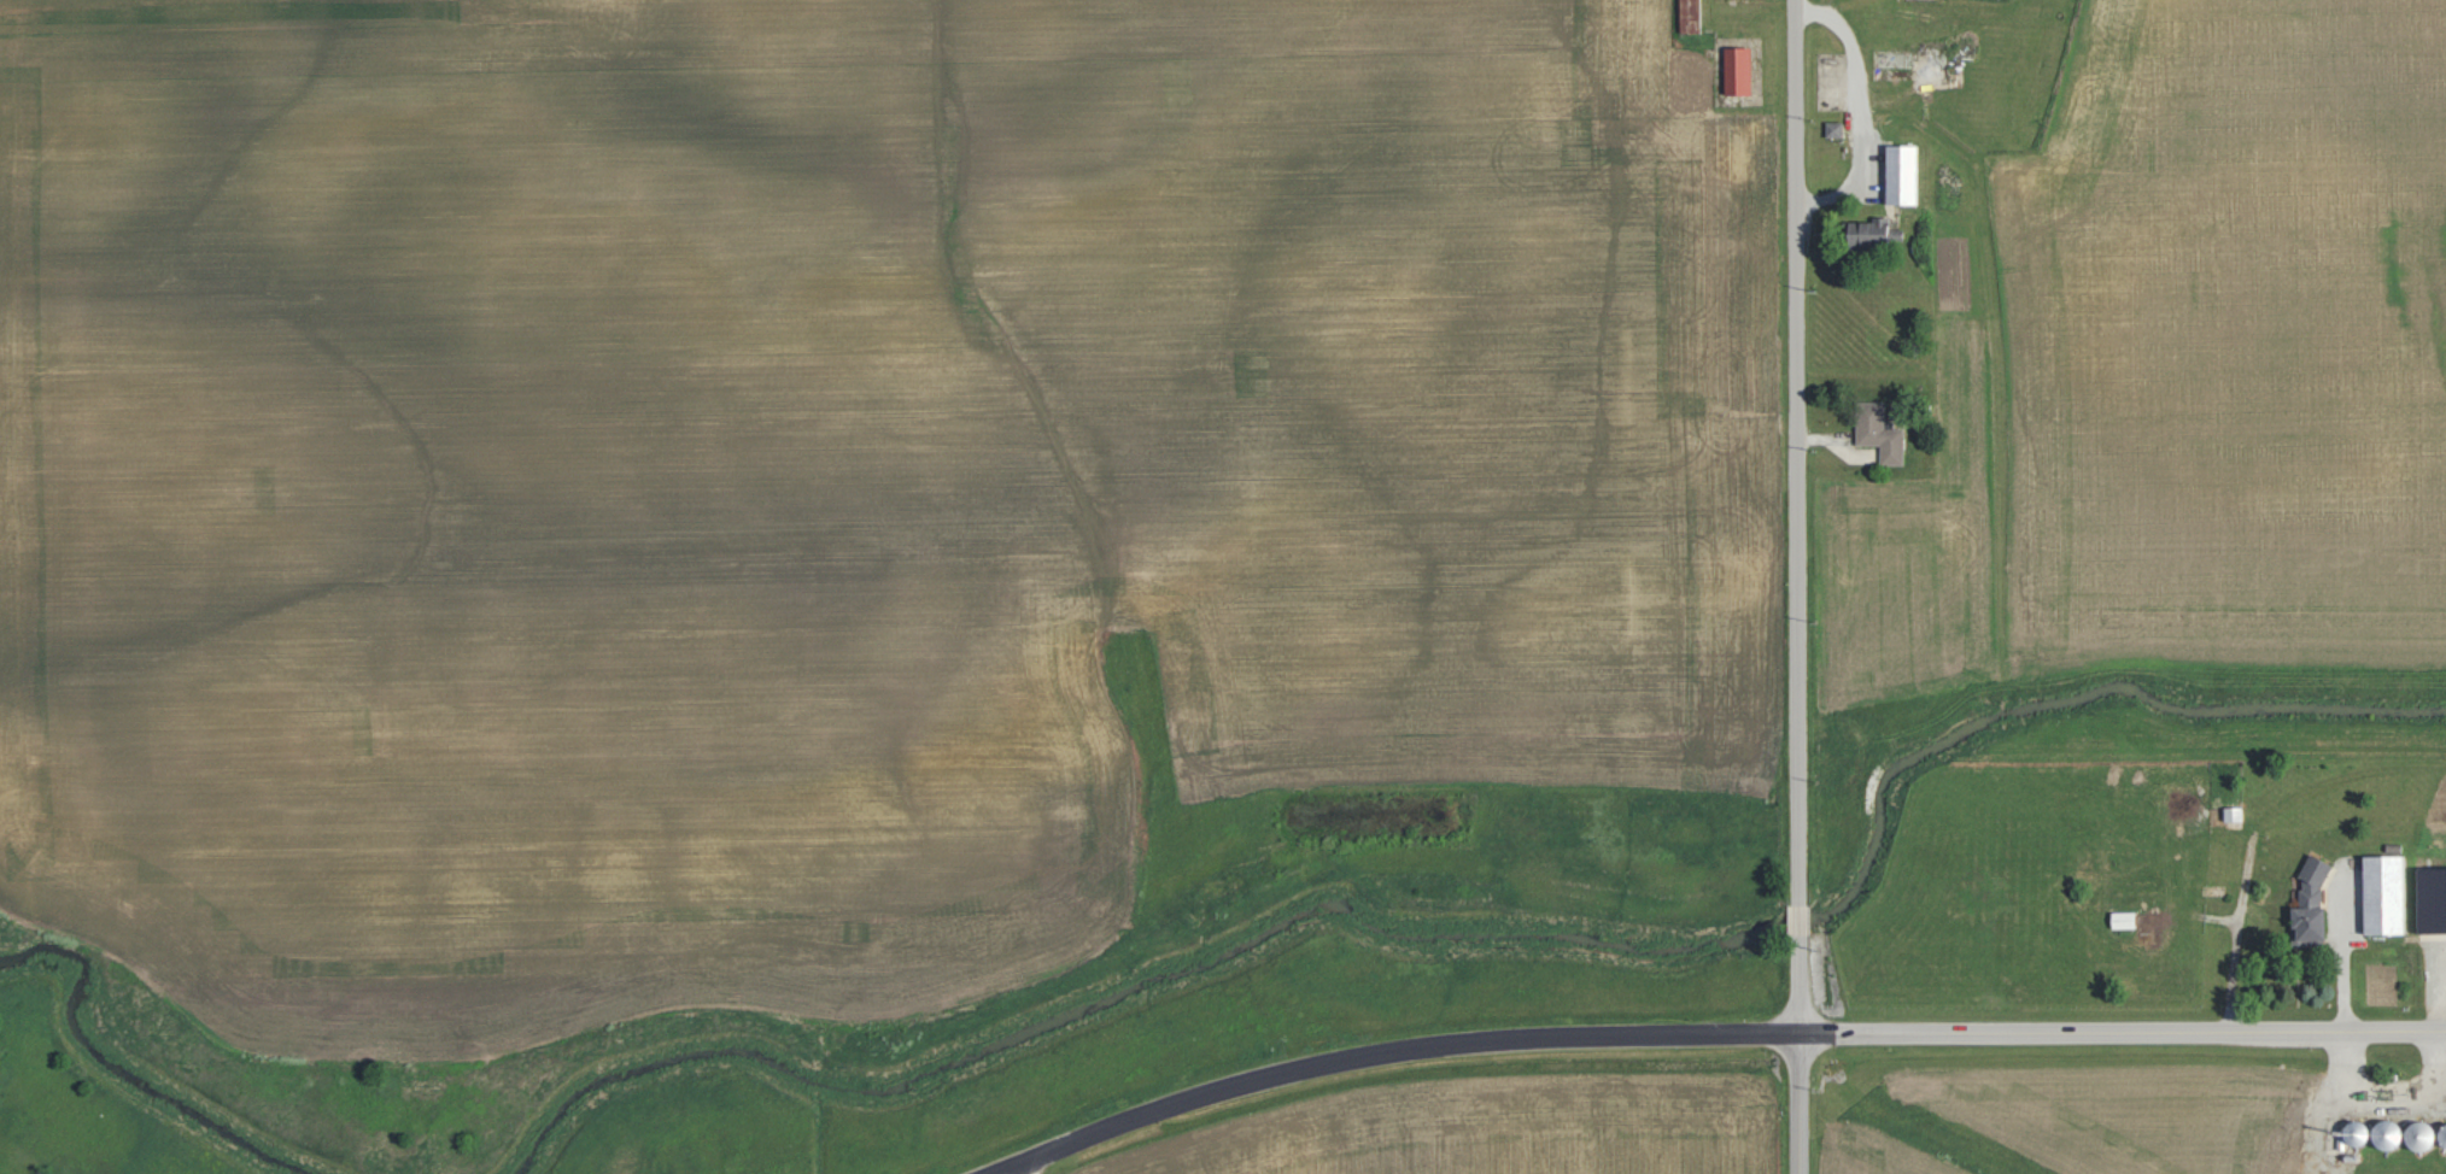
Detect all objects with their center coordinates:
building: (1739, 69)
building: (1836, 128)
building: (1904, 174)
building: (1880, 233)
building: (1880, 432)
road: (1806, 456)
building: (2386, 894)
building: (2315, 902)
building: (2125, 920)
road: (1809, 928)
road: (1724, 1039)
road: (1810, 1059)
road: (1043, 1169)

